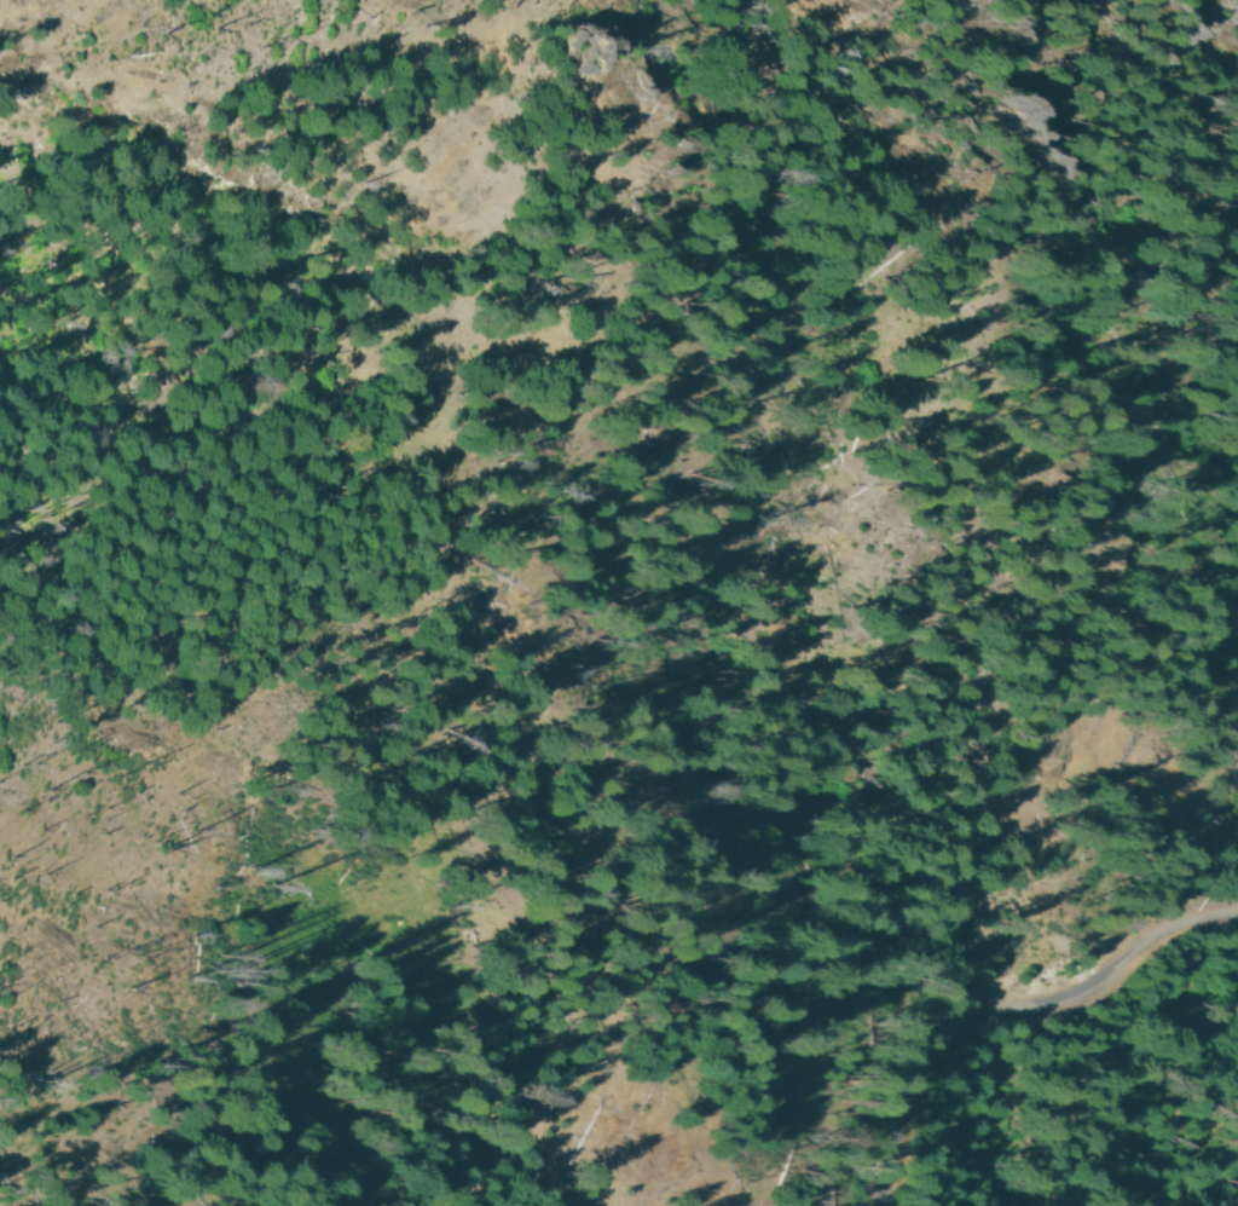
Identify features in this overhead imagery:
road: (1003, 1022)

